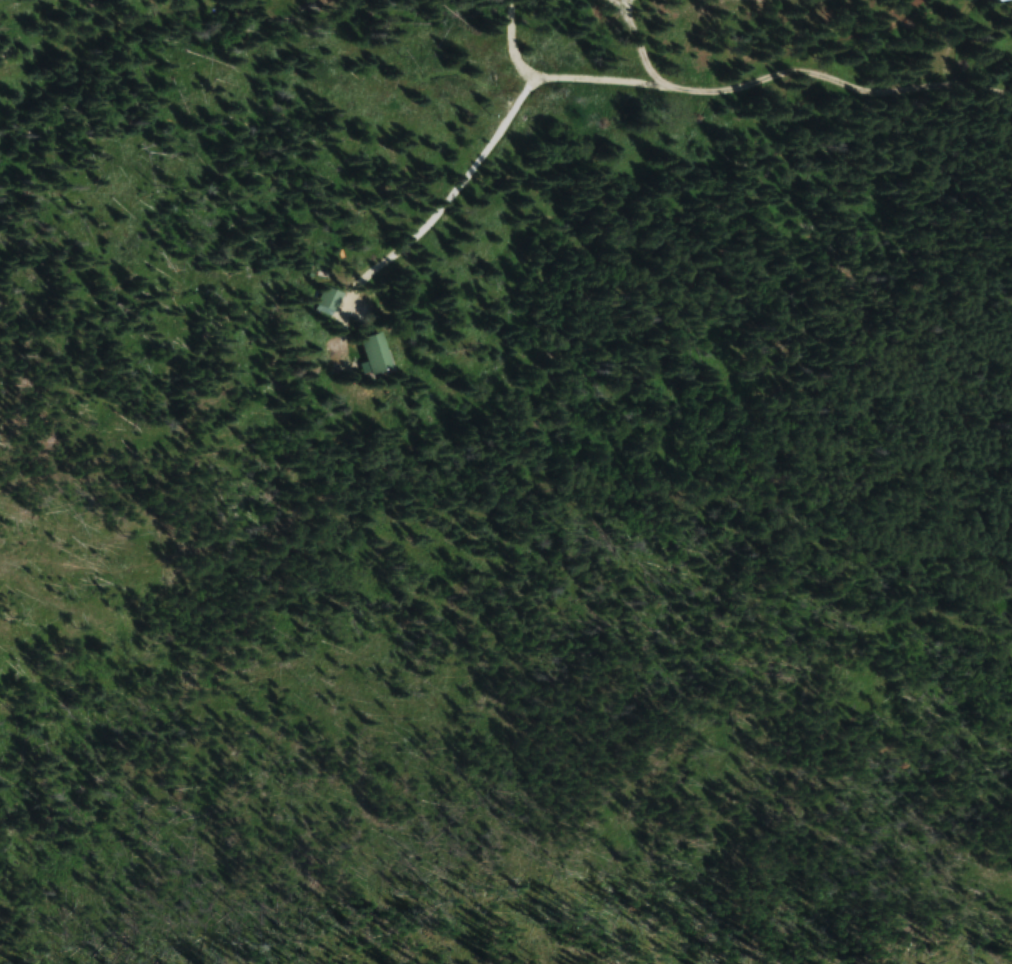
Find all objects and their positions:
building: (1002, 0)
road: (784, 87)
building: (329, 299)
building: (376, 355)

